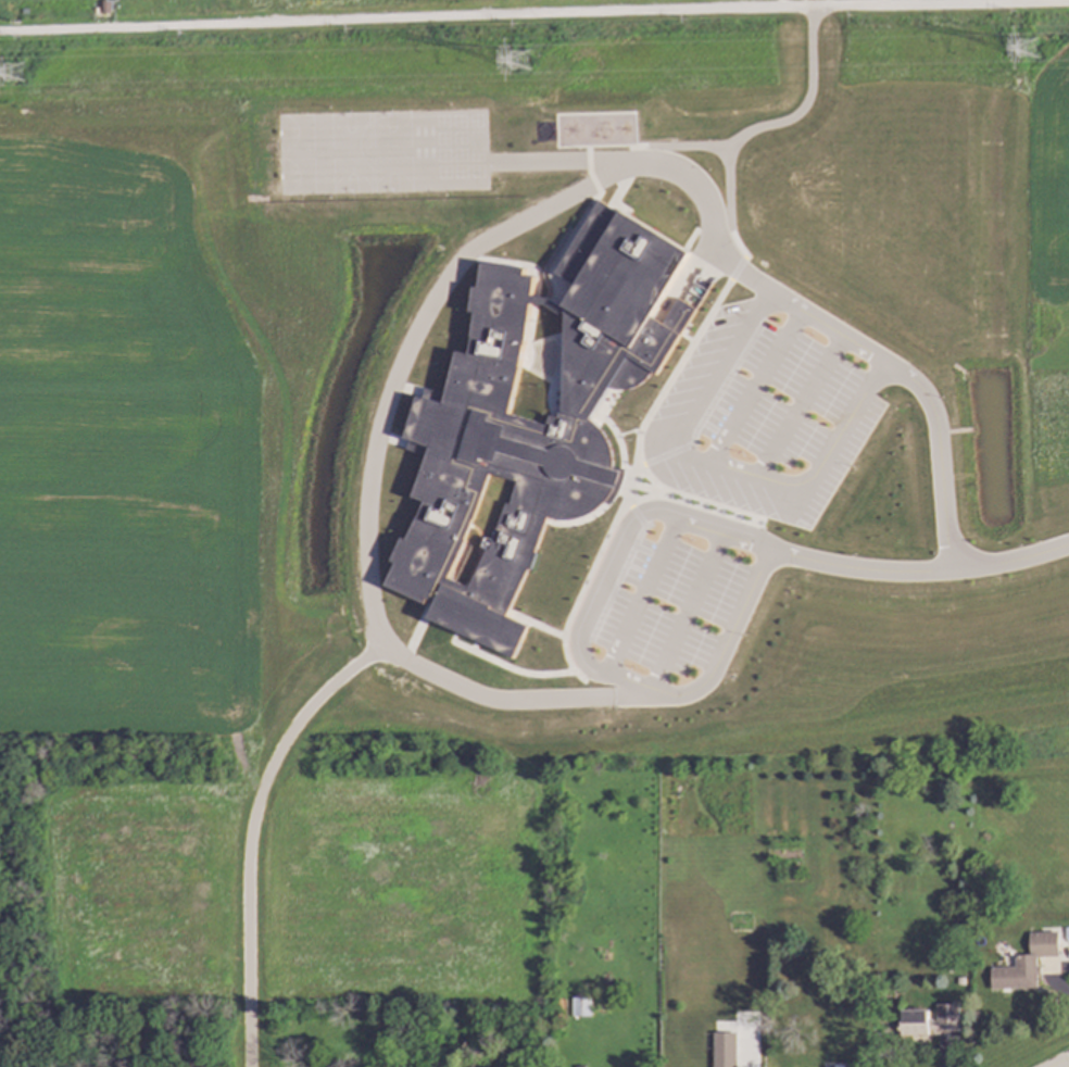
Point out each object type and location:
road: (533, 13)
power tower: (1028, 50)
power tower: (518, 61)
power tower: (13, 75)
road: (767, 125)
crop: (1048, 172)
road: (727, 191)
road: (813, 310)
road: (387, 373)
building: (528, 417)
road: (689, 423)
road: (853, 423)
crop: (123, 452)
building: (566, 511)
road: (614, 549)
road: (1010, 550)
road: (699, 681)
road: (251, 830)
building: (1026, 964)
building: (580, 1007)
building: (929, 1020)
building: (724, 1050)
road: (1060, 1063)

